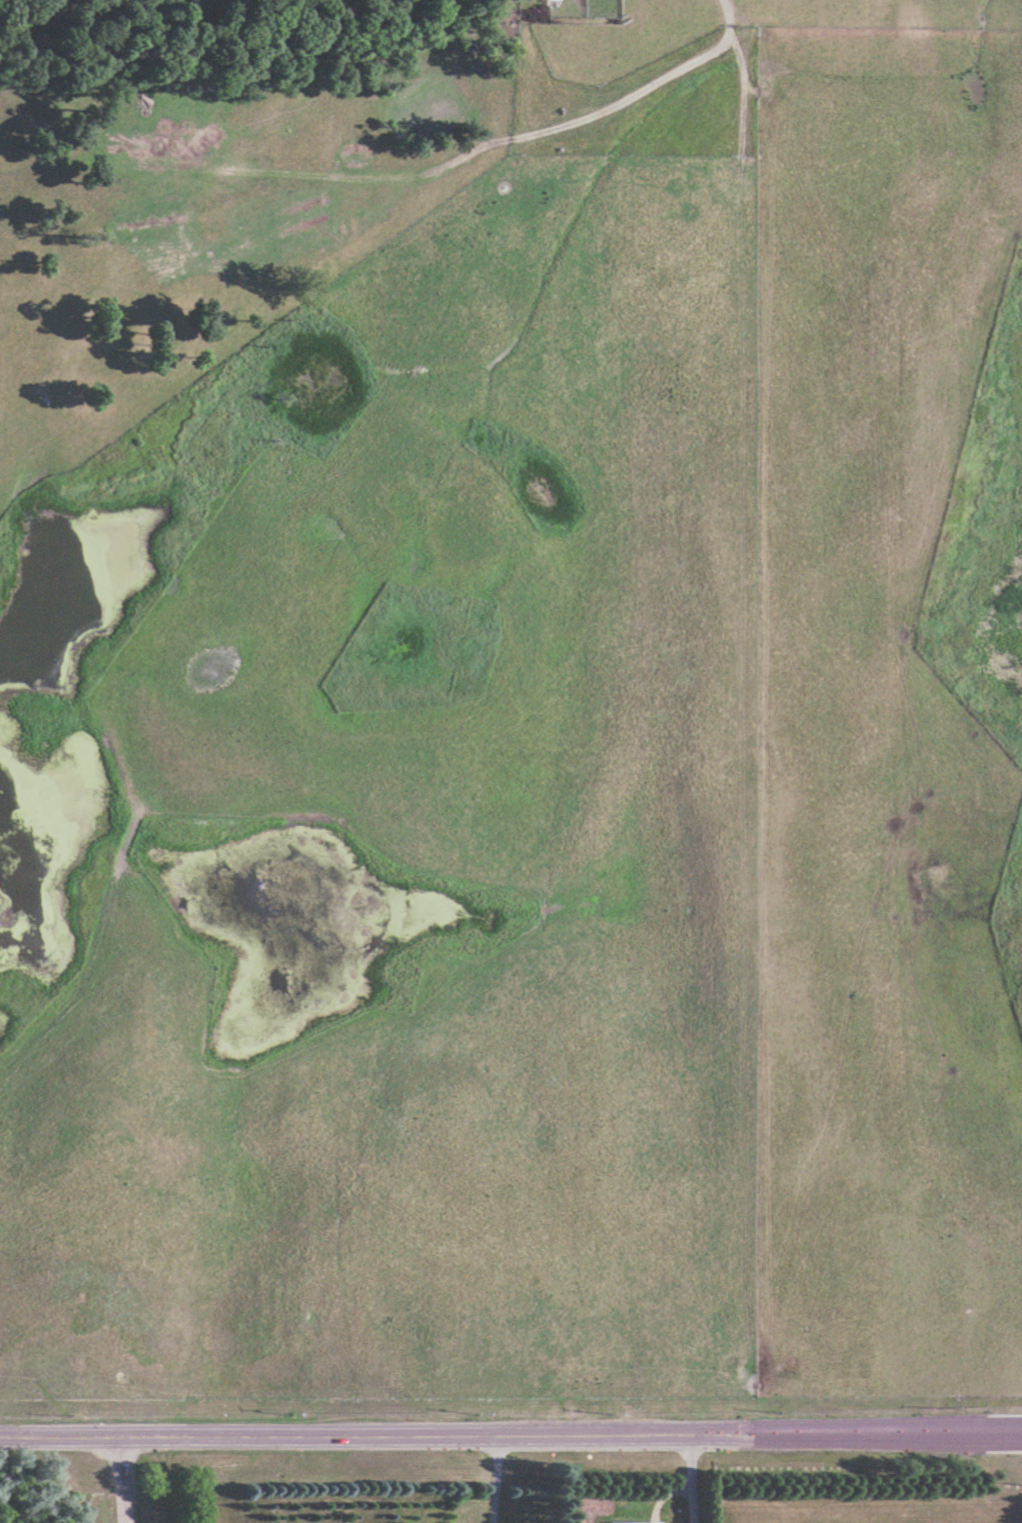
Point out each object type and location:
road: (510, 1434)
road: (690, 1478)
road: (118, 1479)
building: (633, 1522)

